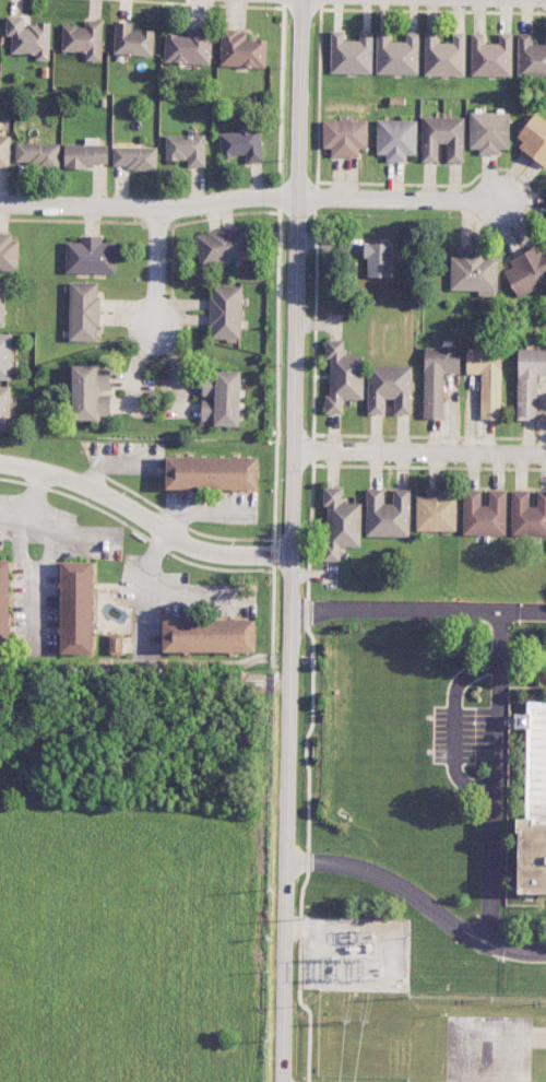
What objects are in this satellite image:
building: (28, 37)
building: (84, 39)
building: (132, 39)
building: (189, 47)
building: (241, 50)
building: (351, 54)
building: (397, 55)
building: (443, 55)
building: (490, 56)
building: (531, 57)
building: (489, 131)
building: (344, 137)
building: (442, 138)
building: (396, 139)
building: (534, 140)
building: (241, 144)
building: (186, 149)
building: (4, 151)
building: (37, 153)
building: (85, 155)
building: (134, 157)
road: (403, 199)
road: (149, 208)
building: (223, 246)
building: (9, 252)
building: (91, 256)
building: (379, 259)
building: (527, 270)
building: (474, 272)
road: (155, 274)
building: (2, 303)
building: (84, 310)
building: (225, 311)
building: (5, 355)
building: (343, 376)
building: (438, 377)
building: (487, 378)
building: (529, 381)
building: (390, 388)
building: (90, 392)
building: (221, 399)
building: (4, 408)
road: (419, 452)
building: (212, 472)
road: (36, 492)
building: (437, 510)
building: (388, 513)
building: (484, 513)
building: (527, 514)
road: (143, 518)
road: (56, 522)
building: (341, 524)
road: (292, 540)
building: (4, 604)
building: (76, 607)
road: (514, 610)
building: (209, 635)
building: (116, 644)
road: (454, 724)
road: (492, 775)
building: (533, 799)
road: (505, 950)
power substation: (355, 954)

